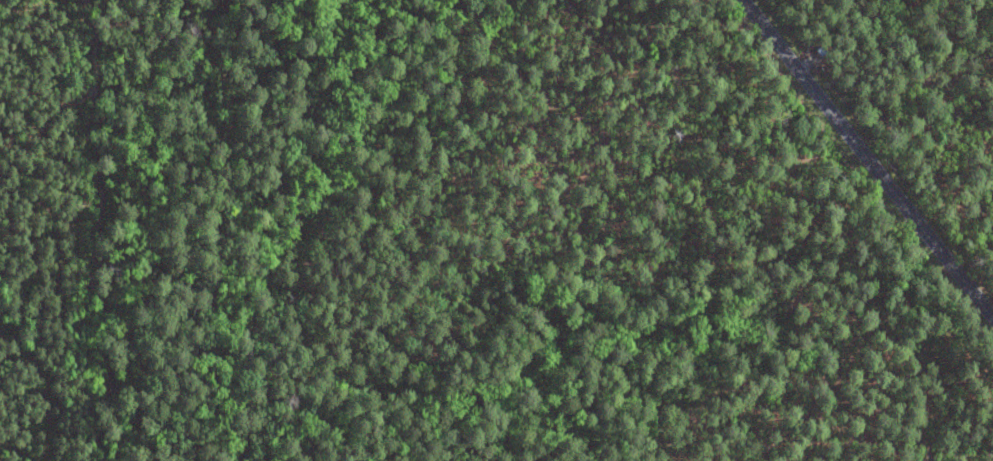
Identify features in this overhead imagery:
road: (861, 163)

